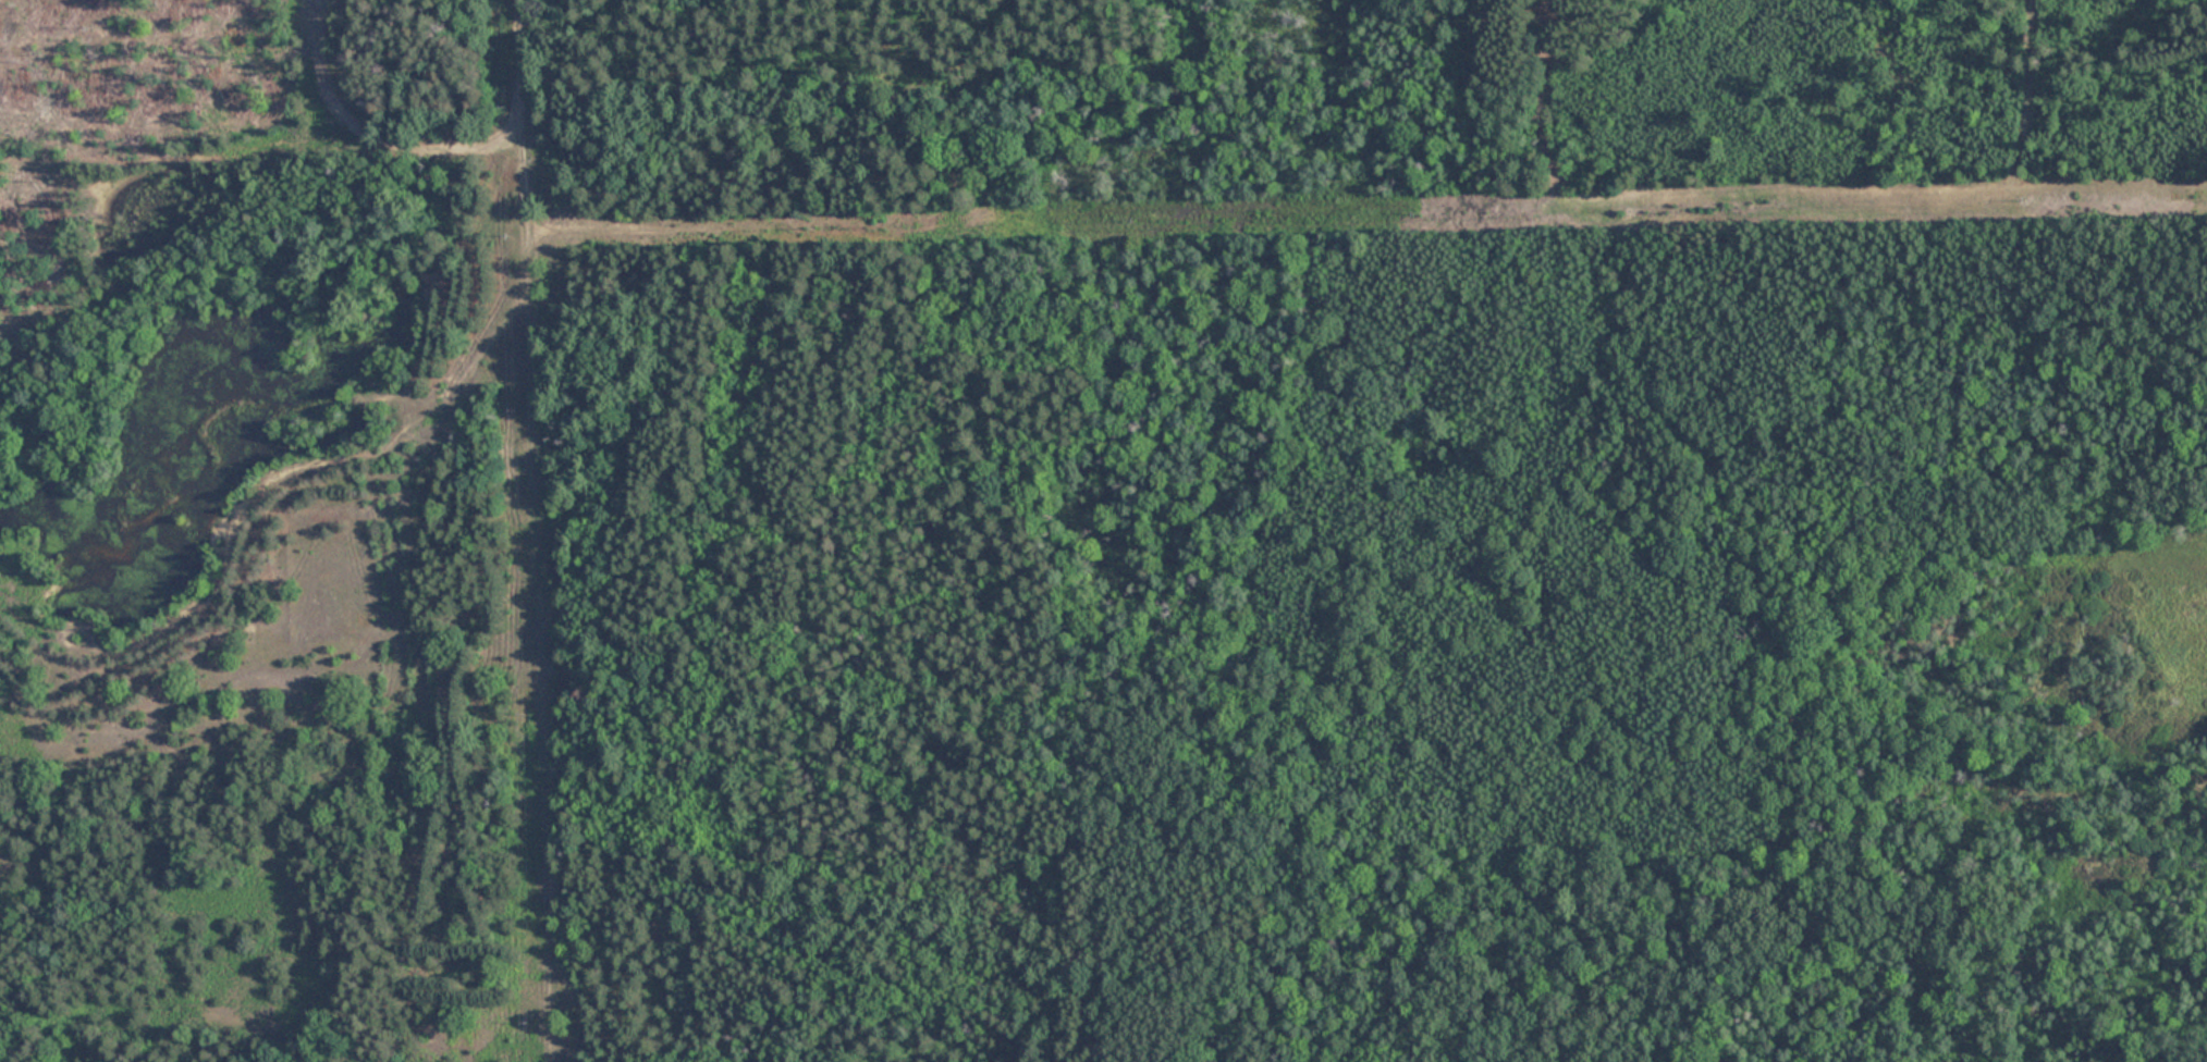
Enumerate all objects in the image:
road: (1685, 101)
road: (1997, 106)
road: (548, 530)
park: (1103, 531)
road: (1683, 531)

